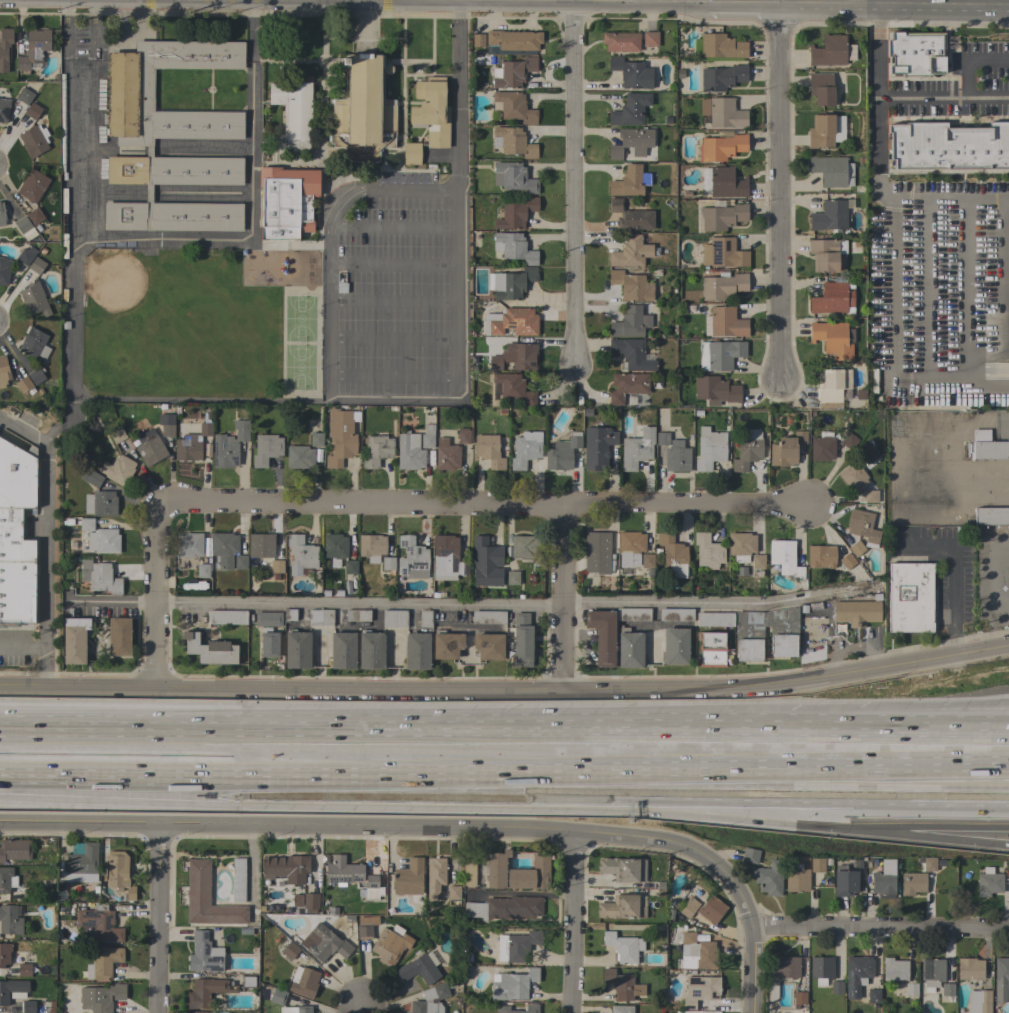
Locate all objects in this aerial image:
road: (167, 0)
road: (374, 0)
road: (480, 1)
road: (887, 3)
road: (974, 4)
road: (937, 7)
road: (362, 24)
road: (64, 30)
road: (92, 30)
building: (650, 39)
building: (478, 40)
building: (514, 40)
building: (620, 41)
building: (4, 47)
building: (721, 48)
building: (33, 49)
building: (828, 51)
building: (849, 52)
building: (916, 53)
road: (84, 73)
building: (512, 73)
building: (631, 73)
building: (722, 77)
road: (963, 78)
building: (821, 89)
building: (25, 96)
road: (875, 96)
building: (514, 107)
building: (363, 109)
building: (4, 110)
building: (32, 111)
building: (431, 111)
building: (628, 111)
building: (293, 112)
building: (723, 112)
building: (821, 131)
road: (877, 132)
building: (169, 138)
building: (34, 140)
building: (513, 142)
building: (631, 142)
building: (948, 146)
building: (722, 147)
building: (411, 154)
building: (832, 170)
building: (513, 177)
building: (629, 182)
road: (576, 183)
building: (726, 183)
building: (33, 186)
road: (780, 186)
road: (457, 195)
building: (286, 202)
road: (246, 206)
building: (516, 213)
building: (2, 215)
building: (34, 216)
building: (630, 216)
building: (829, 216)
building: (723, 217)
building: (22, 225)
road: (391, 228)
road: (324, 239)
building: (513, 247)
building: (630, 252)
building: (723, 253)
road: (71, 254)
building: (826, 254)
building: (25, 256)
building: (36, 265)
road: (390, 265)
building: (4, 271)
building: (511, 283)
building: (631, 286)
building: (723, 286)
road: (929, 287)
road: (965, 287)
road: (892, 288)
road: (1002, 296)
building: (832, 298)
building: (34, 299)
road: (391, 301)
building: (515, 322)
building: (630, 322)
building: (724, 323)
road: (391, 340)
building: (833, 340)
building: (34, 344)
building: (632, 353)
building: (721, 355)
building: (516, 357)
building: (3, 372)
building: (36, 375)
road: (392, 375)
building: (24, 385)
building: (627, 388)
building: (834, 388)
building: (513, 389)
building: (716, 390)
road: (197, 400)
road: (398, 401)
building: (166, 424)
road: (1002, 427)
building: (205, 429)
building: (117, 435)
building: (428, 436)
building: (463, 436)
building: (340, 437)
building: (662, 438)
building: (316, 439)
building: (849, 441)
building: (229, 445)
building: (988, 446)
building: (149, 447)
building: (597, 447)
building: (637, 447)
building: (822, 447)
building: (187, 448)
building: (266, 449)
building: (525, 449)
building: (709, 449)
building: (786, 449)
building: (376, 450)
building: (748, 450)
building: (409, 451)
building: (489, 451)
building: (867, 451)
building: (446, 454)
building: (561, 454)
building: (299, 457)
building: (676, 458)
building: (118, 470)
building: (853, 477)
building: (91, 478)
road: (903, 478)
building: (870, 496)
building: (100, 503)
road: (482, 507)
building: (991, 516)
road: (41, 521)
building: (86, 524)
building: (862, 527)
building: (16, 535)
building: (103, 541)
building: (190, 545)
building: (261, 545)
building: (741, 546)
building: (371, 547)
building: (524, 547)
building: (856, 547)
building: (224, 548)
building: (334, 548)
building: (630, 548)
building: (708, 551)
building: (597, 552)
building: (302, 554)
building: (673, 555)
building: (821, 556)
building: (412, 558)
building: (447, 558)
building: (784, 558)
building: (647, 560)
building: (847, 561)
building: (240, 562)
building: (485, 562)
building: (758, 562)
building: (388, 564)
building: (276, 566)
building: (350, 567)
building: (203, 571)
road: (994, 573)
road: (953, 574)
building: (99, 577)
building: (512, 578)
road: (156, 595)
building: (910, 597)
road: (561, 599)
road: (469, 605)
building: (856, 612)
building: (290, 614)
building: (633, 614)
building: (675, 614)
building: (357, 615)
building: (227, 617)
building: (320, 617)
building: (488, 617)
building: (268, 618)
building: (394, 618)
building: (425, 618)
building: (714, 619)
building: (783, 634)
building: (602, 635)
building: (119, 636)
building: (74, 640)
building: (522, 641)
building: (271, 644)
building: (446, 644)
building: (488, 646)
building: (675, 646)
road: (5, 648)
building: (630, 648)
road: (27, 649)
building: (209, 649)
building: (297, 649)
building: (711, 649)
building: (342, 650)
building: (371, 650)
building: (416, 651)
road: (43, 668)
road: (506, 691)
road: (864, 729)
road: (504, 738)
railway: (504, 760)
road: (155, 776)
road: (660, 782)
road: (608, 798)
road: (958, 823)
road: (398, 827)
road: (957, 830)
building: (15, 850)
building: (750, 855)
building: (80, 863)
building: (817, 864)
building: (929, 864)
building: (285, 866)
building: (469, 868)
building: (496, 869)
building: (622, 869)
building: (342, 871)
building: (119, 874)
building: (531, 874)
building: (435, 876)
building: (409, 878)
building: (769, 878)
building: (796, 878)
building: (7, 879)
building: (238, 879)
building: (884, 879)
building: (844, 881)
building: (912, 883)
building: (989, 883)
building: (372, 888)
building: (453, 892)
building: (30, 895)
building: (207, 898)
building: (303, 902)
building: (688, 907)
building: (504, 908)
building: (620, 908)
building: (711, 910)
road: (160, 918)
building: (10, 920)
road: (573, 923)
building: (98, 924)
building: (366, 927)
road: (881, 929)
building: (245, 931)
building: (329, 946)
building: (390, 946)
building: (515, 946)
building: (623, 947)
building: (290, 951)
building: (700, 951)
building: (4, 953)
building: (204, 954)
building: (103, 962)
building: (785, 967)
building: (24, 969)
building: (419, 969)
building: (822, 969)
building: (970, 969)
building: (895, 970)
road: (753, 971)
building: (932, 973)
building: (857, 975)
building: (1001, 980)
building: (248, 981)
building: (304, 982)
building: (513, 985)
building: (622, 985)
building: (836, 987)
building: (911, 989)
building: (947, 989)
building: (12, 990)
building: (700, 990)
building: (772, 991)
building: (206, 992)
building: (277, 996)
building: (100, 997)
building: (874, 997)
building: (799, 998)
building: (430, 1000)
building: (979, 1002)
building: (33, 1007)
road: (359, 1008)
building: (298, 1009)
building: (621, 1009)
building: (502, 1010)
building: (197, 1012)

